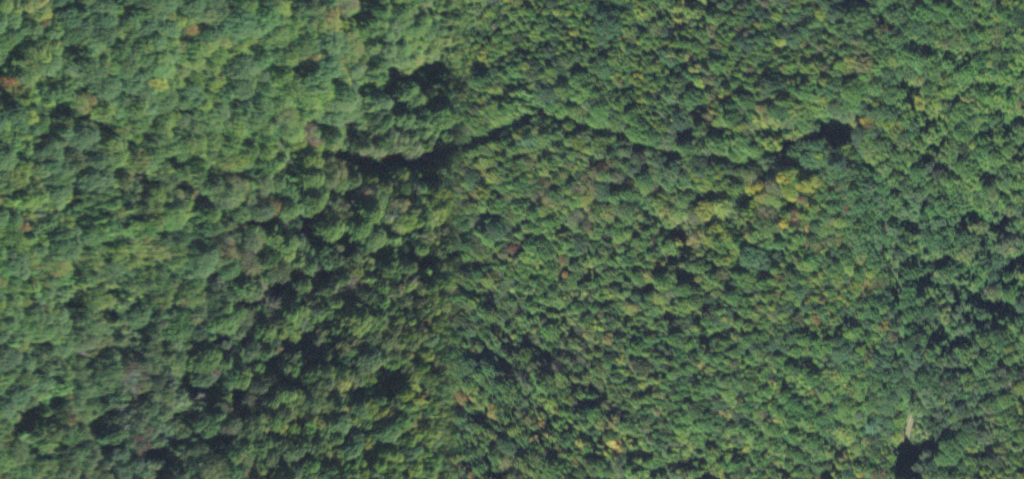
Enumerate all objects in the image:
road: (3, 22)

